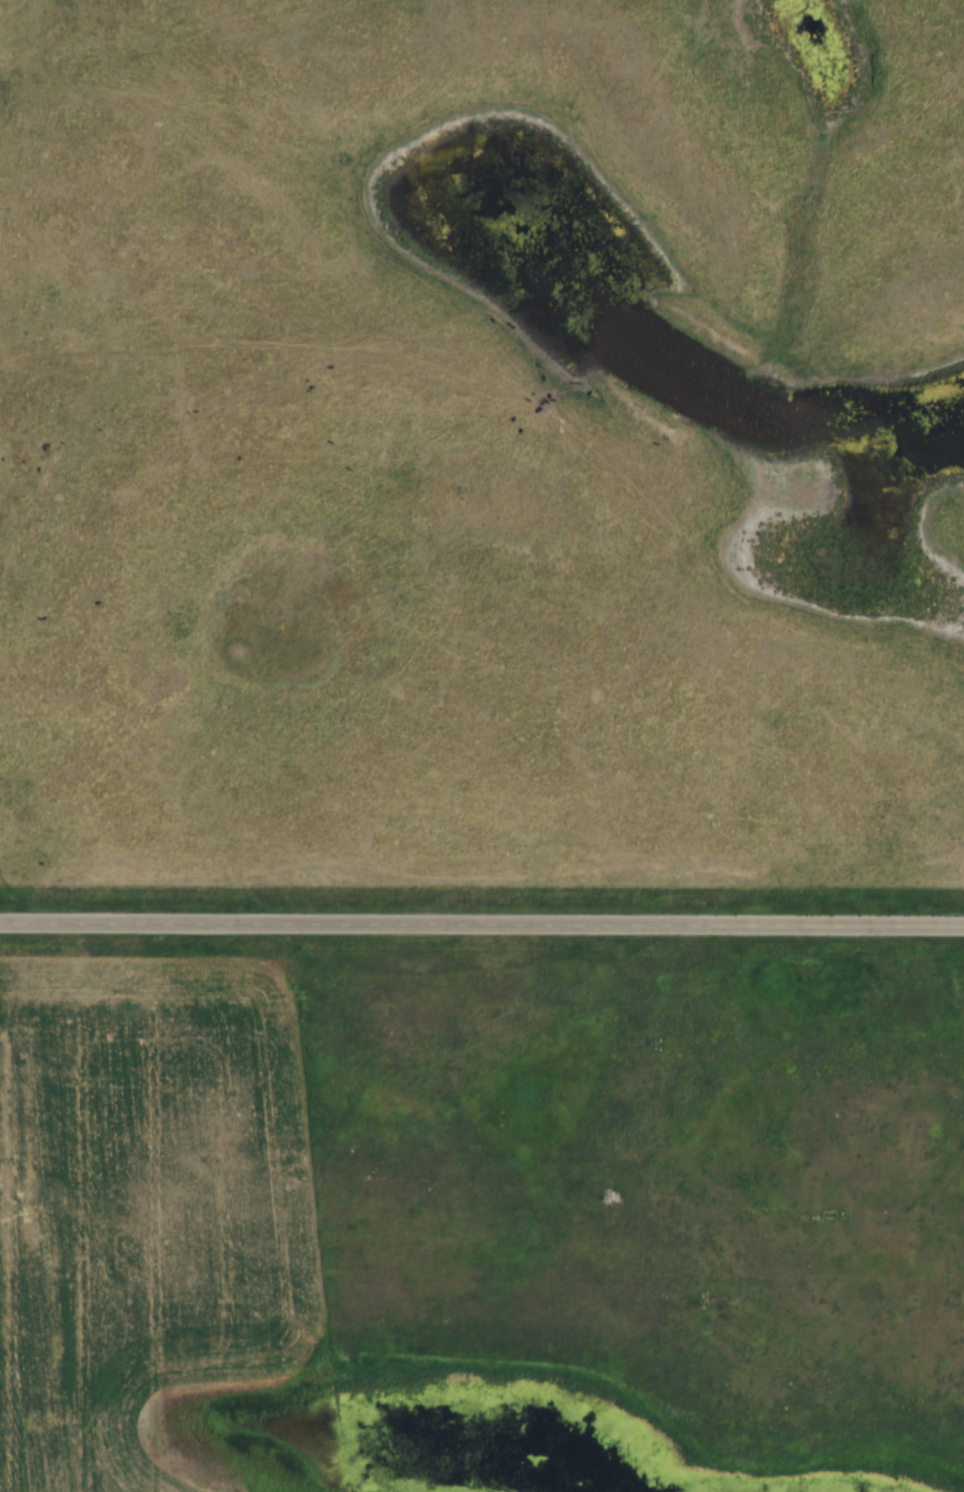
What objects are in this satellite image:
road: (482, 922)

